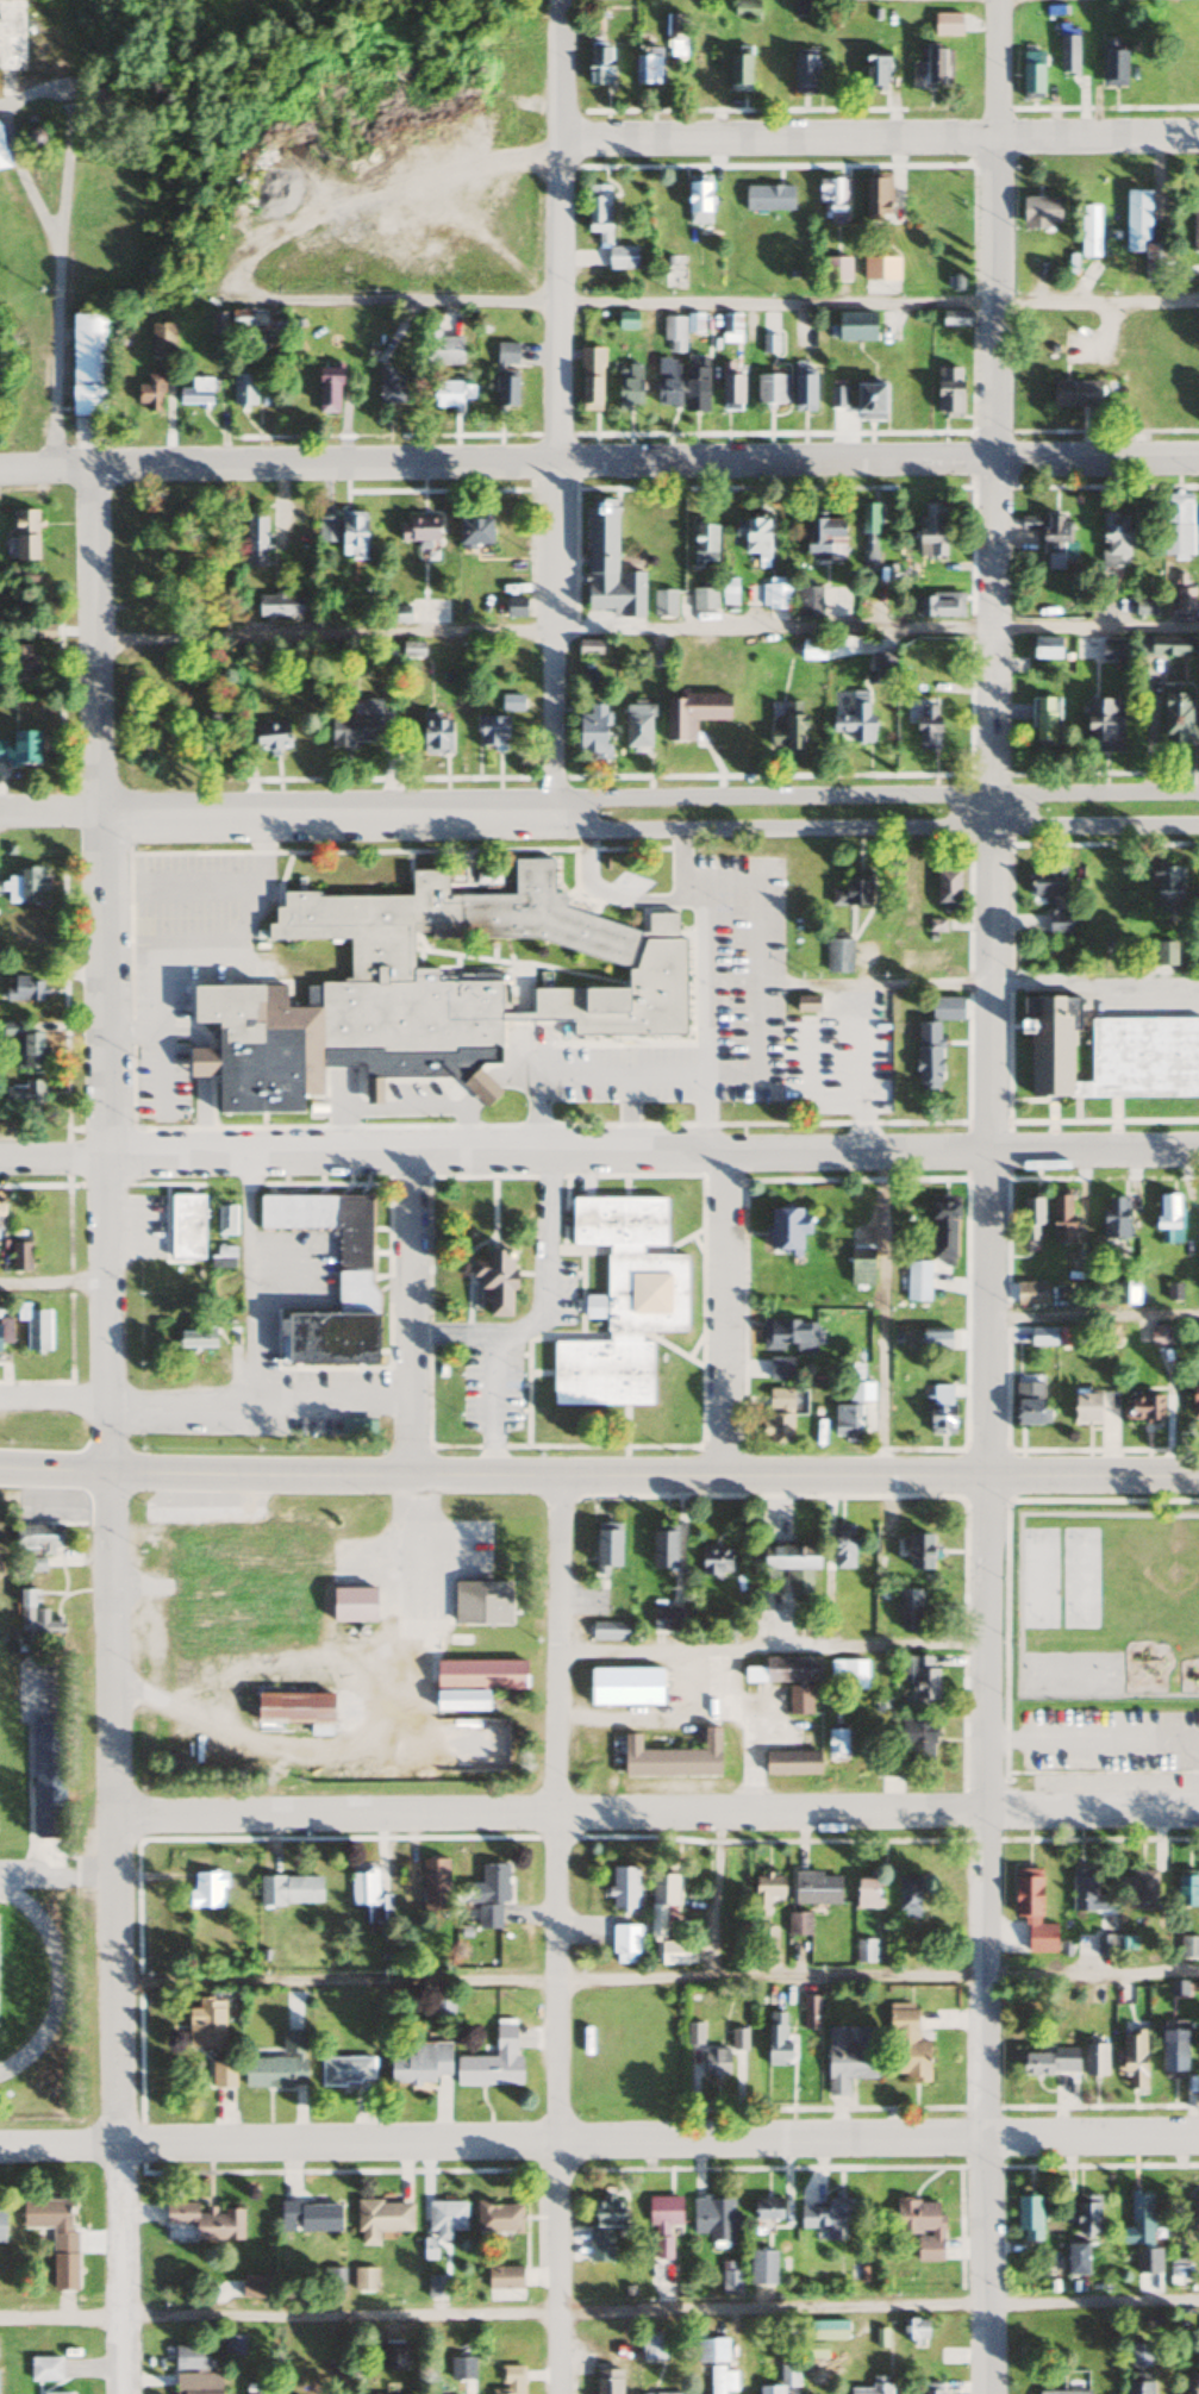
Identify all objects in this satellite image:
building: (744, 10)
building: (945, 25)
building: (674, 36)
building: (11, 37)
building: (1067, 55)
building: (645, 61)
building: (1112, 62)
building: (599, 64)
building: (738, 70)
building: (874, 70)
building: (803, 71)
building: (931, 71)
building: (1031, 75)
building: (100, 106)
road: (879, 137)
building: (1, 151)
building: (875, 196)
building: (768, 199)
building: (832, 200)
building: (697, 204)
building: (597, 211)
building: (1038, 213)
building: (1136, 220)
building: (1088, 231)
building: (1195, 232)
building: (620, 257)
building: (1157, 262)
building: (880, 268)
building: (837, 269)
road: (69, 290)
road: (707, 301)
building: (239, 319)
building: (953, 319)
building: (626, 320)
building: (218, 323)
building: (854, 326)
building: (730, 329)
building: (673, 335)
building: (161, 339)
building: (439, 345)
building: (86, 364)
building: (505, 375)
building: (589, 379)
building: (666, 382)
building: (389, 387)
building: (627, 388)
building: (243, 389)
building: (326, 389)
building: (694, 389)
building: (770, 389)
building: (803, 390)
building: (195, 392)
building: (948, 392)
building: (149, 393)
building: (730, 393)
building: (1074, 393)
building: (443, 395)
building: (836, 398)
building: (868, 402)
road: (556, 407)
road: (599, 461)
building: (1176, 525)
building: (931, 527)
building: (420, 530)
building: (472, 532)
building: (343, 535)
building: (23, 536)
building: (867, 536)
building: (753, 537)
building: (823, 539)
building: (1053, 539)
building: (254, 540)
building: (1113, 540)
building: (702, 545)
building: (607, 565)
building: (25, 576)
building: (766, 598)
building: (702, 600)
building: (1184, 600)
building: (663, 604)
building: (937, 605)
building: (277, 606)
building: (514, 607)
building: (1145, 610)
road: (647, 629)
building: (43, 631)
building: (1160, 646)
building: (588, 648)
building: (1042, 649)
building: (1111, 651)
building: (20, 663)
building: (880, 669)
building: (511, 704)
building: (692, 714)
building: (1175, 714)
building: (855, 721)
building: (1044, 721)
building: (636, 725)
building: (358, 726)
building: (1103, 726)
building: (925, 729)
building: (492, 731)
building: (589, 731)
building: (786, 733)
building: (433, 736)
building: (270, 737)
building: (19, 750)
road: (874, 795)
road: (276, 817)
road: (875, 825)
building: (1047, 880)
building: (24, 886)
building: (945, 890)
building: (851, 892)
building: (1168, 892)
building: (1059, 923)
building: (837, 954)
road: (950, 983)
building: (424, 986)
building: (24, 989)
building: (944, 1008)
building: (1048, 1044)
building: (25, 1048)
building: (926, 1056)
building: (1142, 1058)
building: (23, 1095)
road: (599, 1151)
road: (992, 1196)
building: (1166, 1214)
building: (0, 1215)
building: (1114, 1219)
building: (1061, 1220)
building: (225, 1221)
building: (1030, 1221)
building: (183, 1229)
building: (785, 1231)
building: (943, 1233)
building: (223, 1257)
building: (860, 1268)
building: (354, 1269)
road: (55, 1282)
building: (917, 1282)
building: (492, 1284)
building: (1173, 1293)
building: (1030, 1295)
building: (622, 1302)
road: (725, 1312)
road: (417, 1314)
road: (1094, 1318)
building: (33, 1330)
building: (4, 1334)
building: (793, 1336)
building: (1042, 1338)
building: (194, 1339)
building: (329, 1340)
building: (1194, 1340)
building: (920, 1342)
building: (855, 1367)
building: (779, 1370)
building: (860, 1394)
building: (1194, 1398)
road: (55, 1400)
building: (779, 1400)
road: (263, 1401)
building: (1029, 1405)
building: (1085, 1409)
building: (1143, 1409)
building: (939, 1411)
building: (845, 1421)
building: (778, 1430)
road: (111, 1431)
road: (599, 1474)
building: (37, 1538)
building: (842, 1545)
building: (605, 1549)
building: (661, 1549)
building: (917, 1550)
building: (713, 1559)
building: (791, 1563)
park: (1035, 1574)
park: (1075, 1574)
building: (250, 1577)
building: (354, 1602)
building: (480, 1602)
building: (907, 1609)
building: (32, 1620)
building: (607, 1630)
building: (181, 1662)
building: (787, 1668)
park: (1068, 1670)
building: (480, 1674)
building: (848, 1674)
building: (923, 1680)
building: (624, 1687)
building: (460, 1698)
building: (799, 1700)
building: (291, 1706)
road: (1093, 1739)
building: (918, 1740)
building: (836, 1742)
building: (672, 1757)
building: (791, 1763)
park: (0, 1771)
building: (45, 1779)
road: (656, 1813)
parking lot: (83, 1874)
building: (433, 1883)
building: (623, 1887)
building: (1137, 1887)
building: (1186, 1887)
building: (362, 1888)
building: (816, 1888)
building: (206, 1889)
building: (288, 1890)
building: (764, 1890)
building: (488, 1892)
building: (1086, 1892)
building: (866, 1893)
building: (907, 1894)
building: (1031, 1909)
building: (663, 1921)
building: (798, 1924)
road: (556, 1933)
building: (766, 1938)
building: (624, 1943)
building: (1189, 1948)
building: (864, 1950)
road: (1093, 1965)
track: (25, 1973)
building: (441, 2002)
building: (810, 2011)
building: (205, 2023)
building: (693, 2032)
building: (775, 2037)
building: (737, 2038)
building: (907, 2045)
building: (1173, 2052)
building: (849, 2056)
building: (1132, 2056)
building: (1093, 2058)
building: (492, 2059)
building: (714, 2061)
building: (1048, 2061)
building: (419, 2062)
building: (277, 2064)
building: (345, 2070)
building: (220, 2073)
road: (599, 2138)
building: (766, 2207)
building: (1086, 2214)
building: (1194, 2214)
building: (308, 2215)
building: (498, 2215)
building: (714, 2215)
building: (1029, 2215)
building: (826, 2217)
building: (380, 2218)
building: (1, 2219)
building: (1138, 2219)
building: (205, 2220)
building: (662, 2220)
building: (50, 2221)
building: (443, 2221)
building: (920, 2224)
building: (601, 2226)
building: (1075, 2257)
building: (1147, 2259)
building: (761, 2265)
building: (1178, 2268)
building: (363, 2277)
building: (504, 2281)
building: (730, 2281)
building: (437, 2284)
building: (255, 2286)
road: (599, 2312)
building: (823, 2329)
building: (913, 2329)
building: (232, 2344)
building: (651, 2346)
building: (711, 2349)
building: (812, 2349)
building: (1141, 2355)
building: (461, 2367)
building: (44, 2368)
building: (193, 2370)
building: (722, 2379)
building: (510, 2380)
building: (781, 2380)
building: (607, 2381)
building: (1138, 2382)
building: (1191, 2382)
building: (873, 2387)
building: (256, 2388)
building: (931, 2388)
building: (1063, 2392)
building: (55, 2393)
building: (667, 2393)

